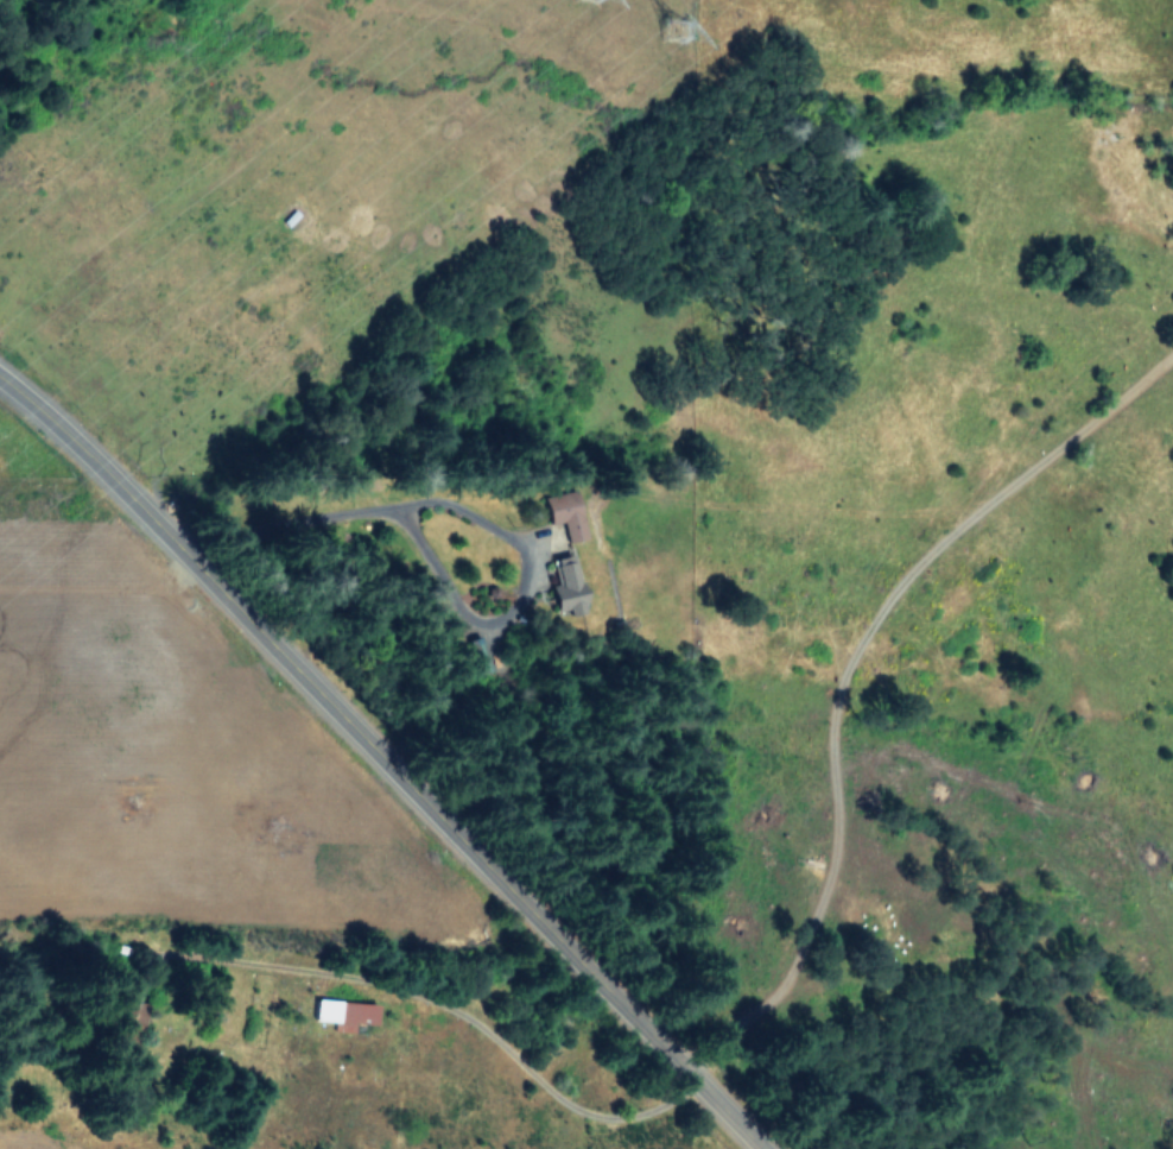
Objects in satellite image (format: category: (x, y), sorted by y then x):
power tower: (683, 21)
building: (566, 513)
road: (492, 537)
building: (568, 588)
road: (842, 678)
road: (380, 764)
crop: (234, 902)
road: (443, 1011)
building: (344, 1014)

